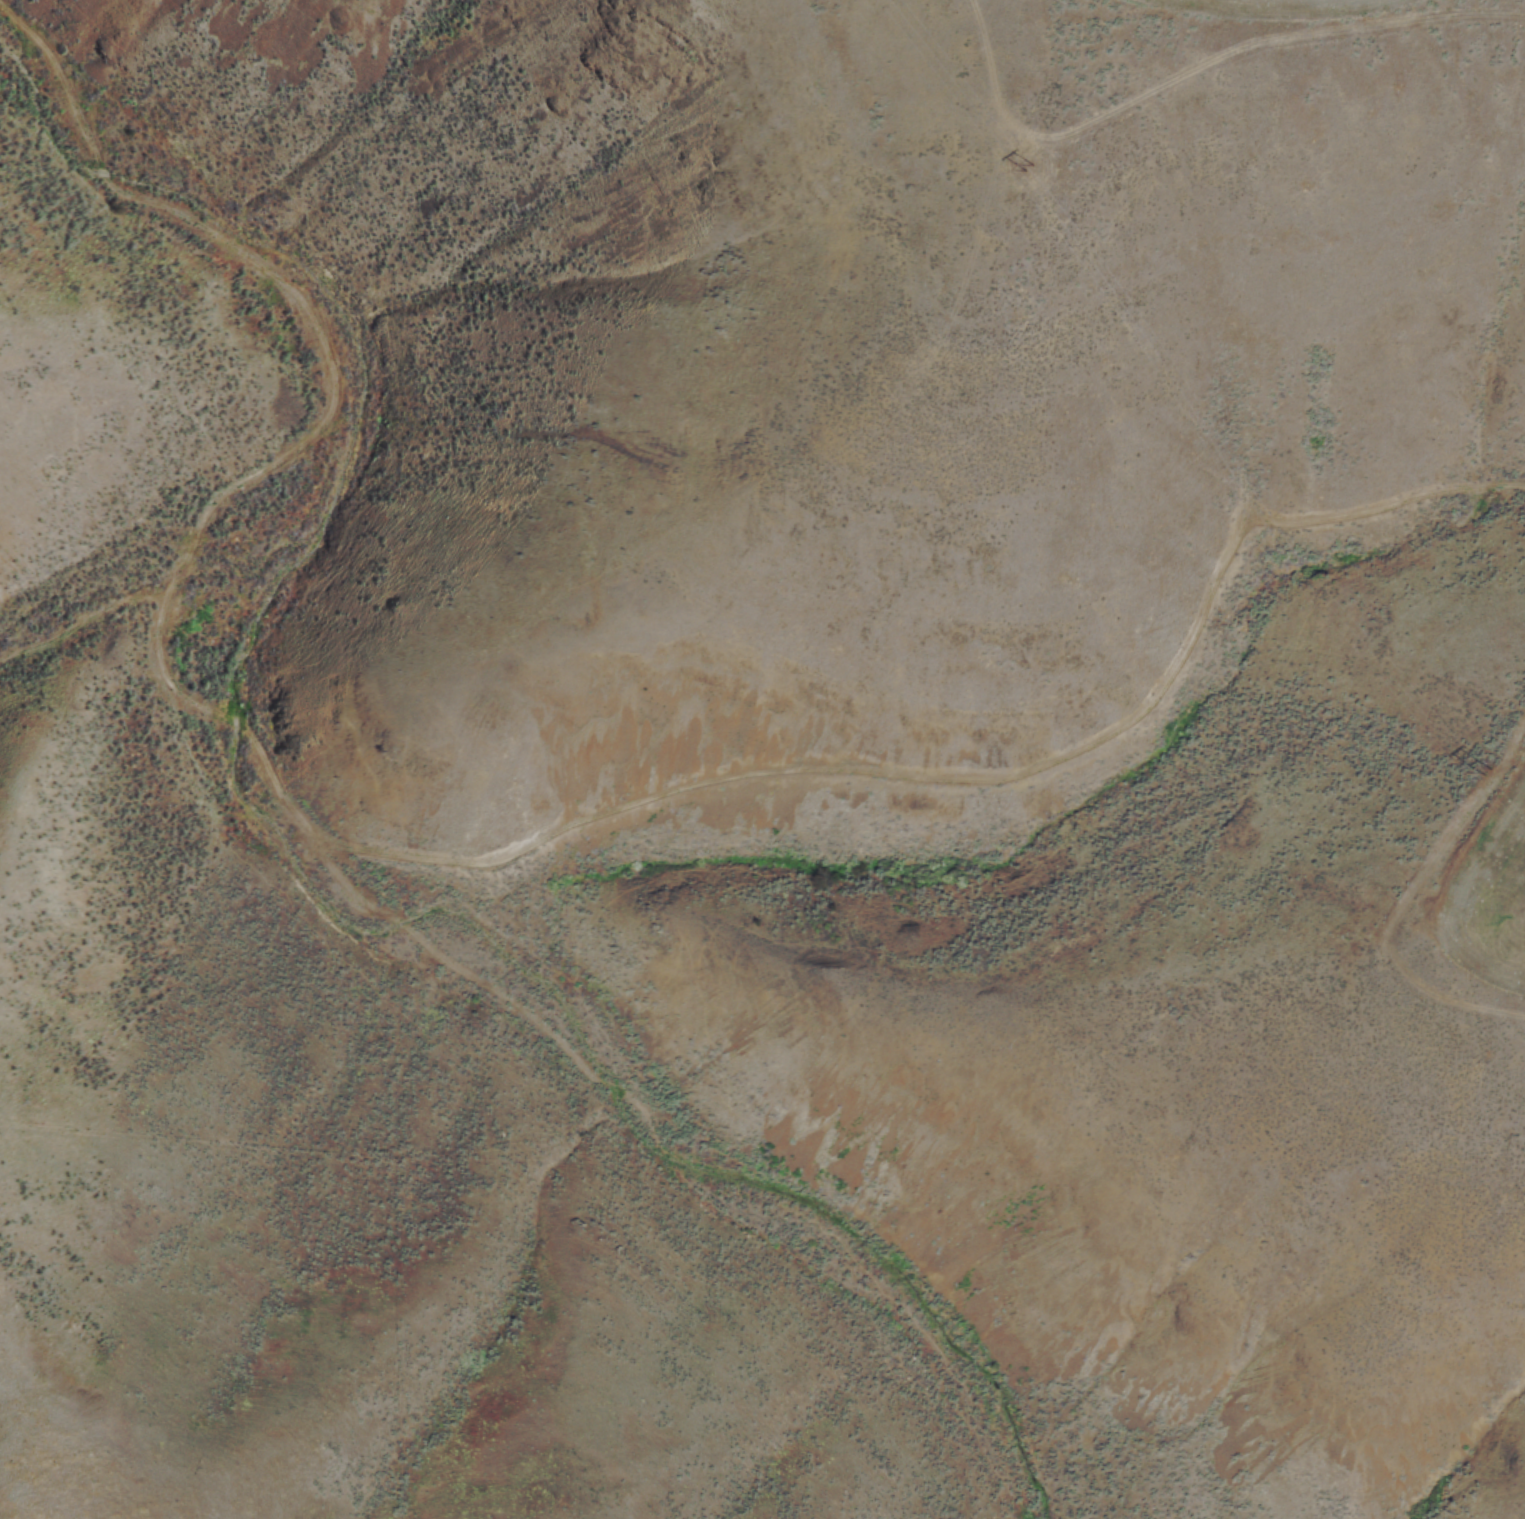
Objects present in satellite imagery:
power tower: (1034, 167)
power tower: (1385, 577)

